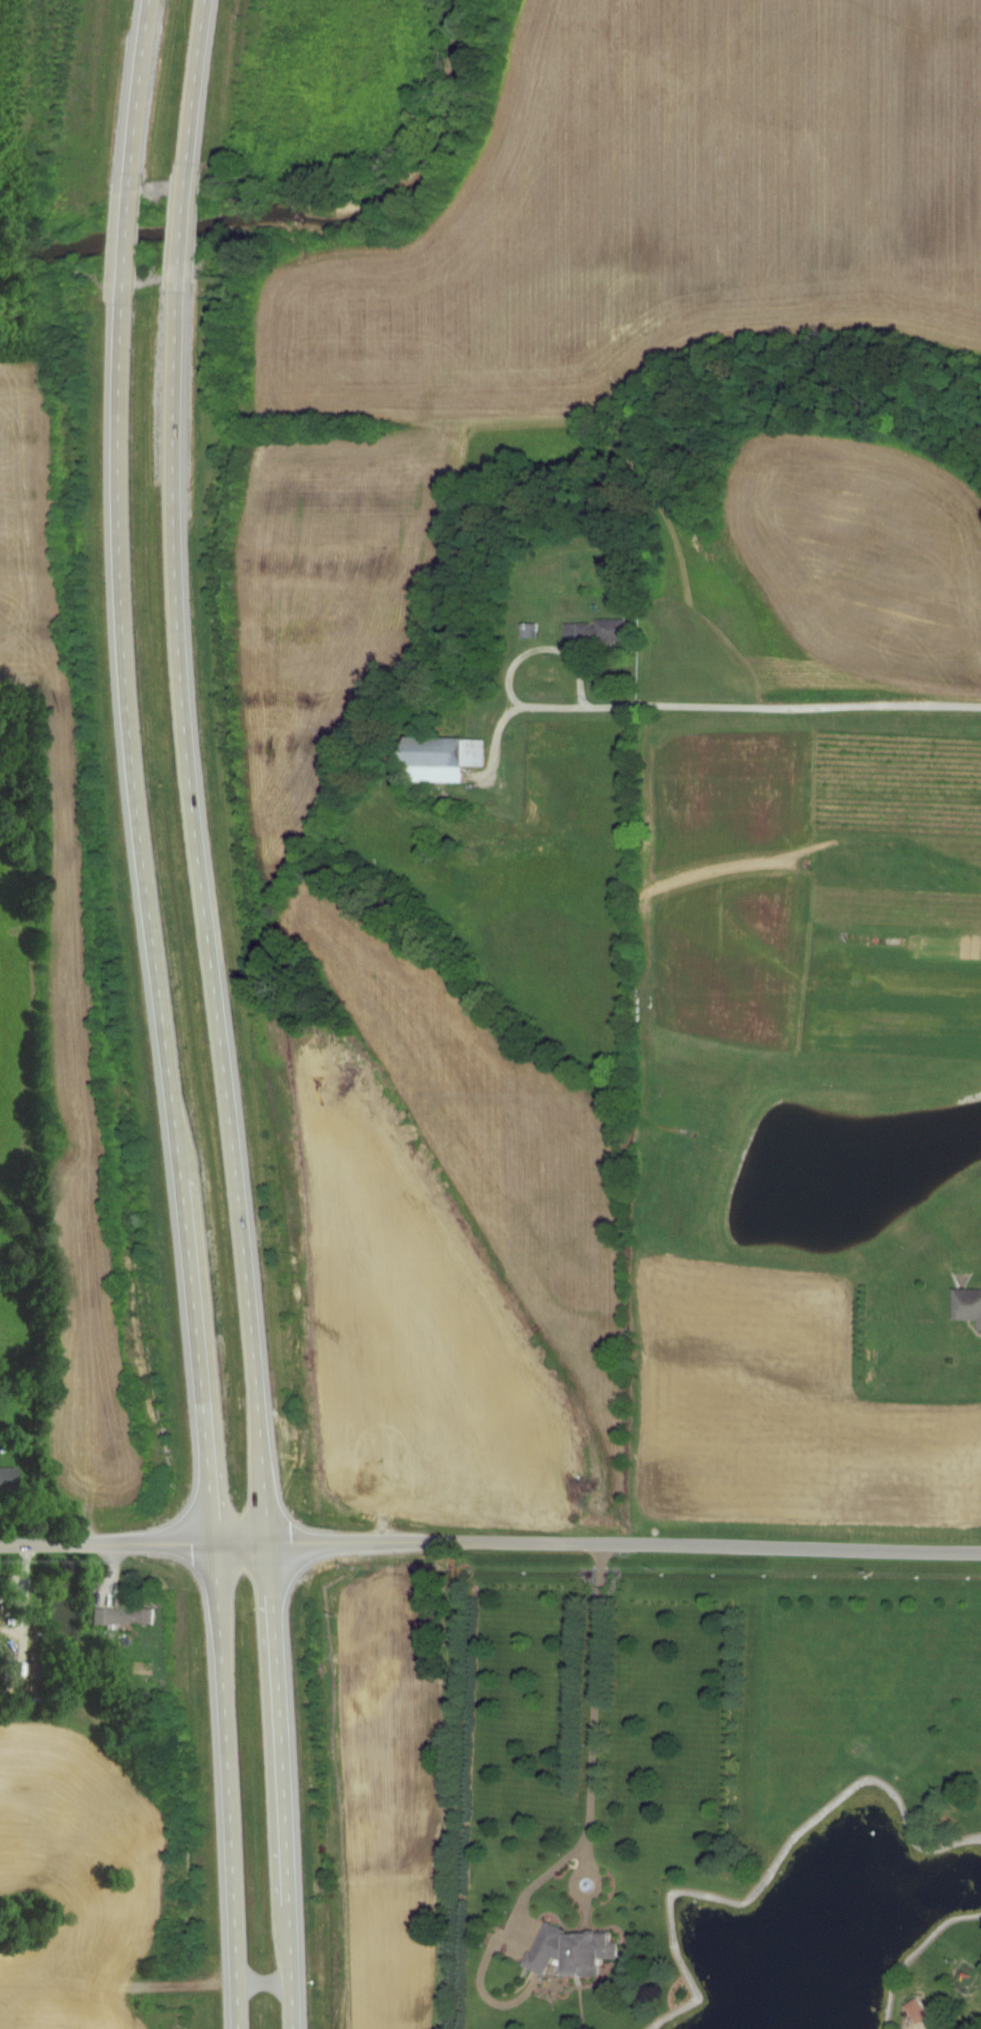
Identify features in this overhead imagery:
building: (601, 631)
road: (749, 706)
building: (451, 758)
road: (220, 1013)
road: (160, 1014)
building: (969, 1303)
building: (9, 1476)
road: (490, 1541)
building: (123, 1618)
building: (40, 1665)
road: (592, 1706)
road: (573, 1883)
building: (577, 1951)
building: (922, 2010)
road: (973, 2025)

